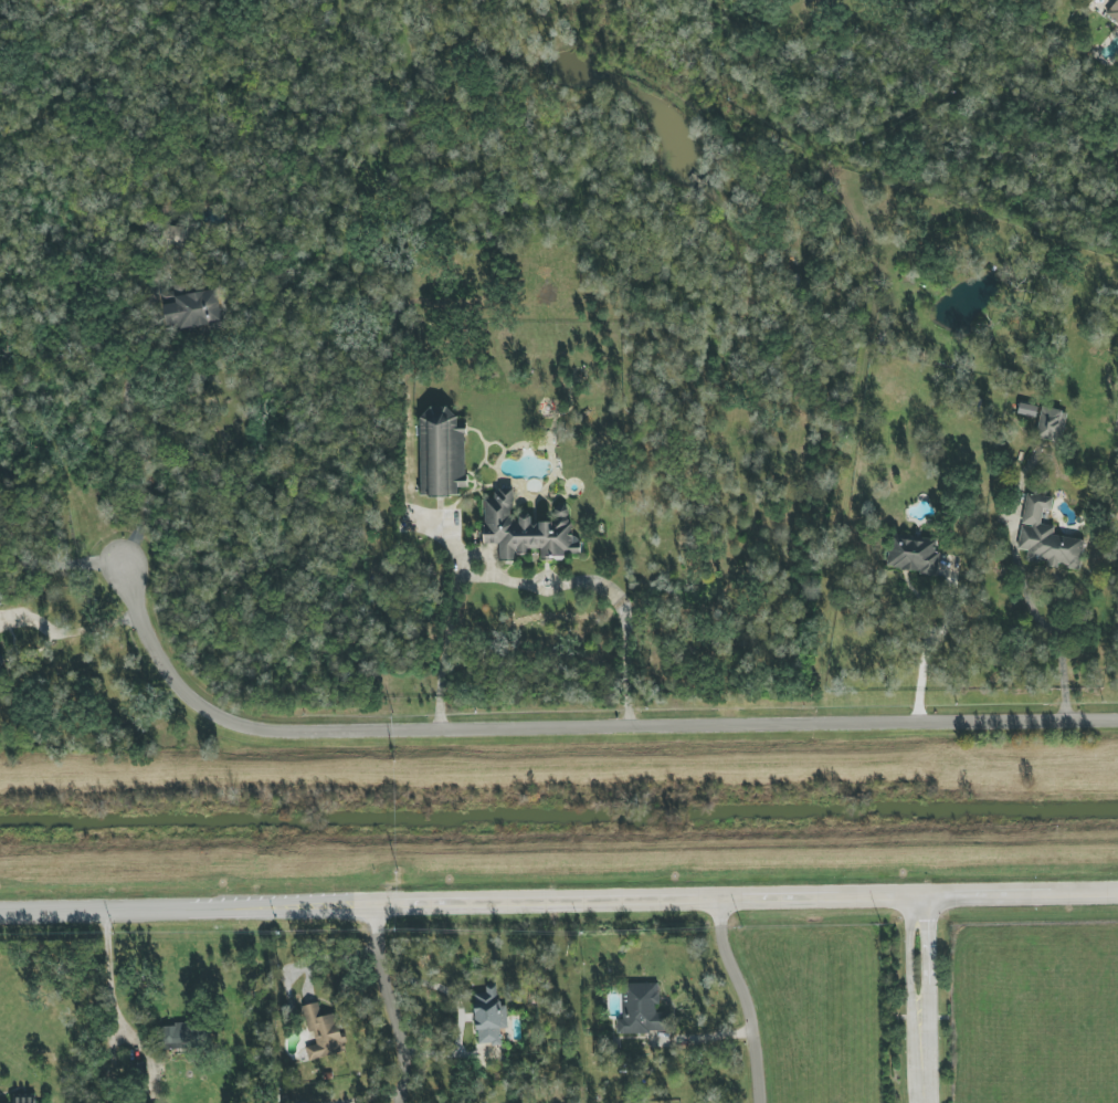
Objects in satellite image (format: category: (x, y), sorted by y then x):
building: (1115, 9)
building: (176, 237)
building: (193, 309)
building: (1027, 410)
building: (1051, 423)
road: (136, 445)
building: (444, 453)
building: (526, 529)
building: (1046, 537)
road: (14, 546)
building: (913, 555)
road: (75, 564)
road: (14, 570)
road: (529, 585)
road: (1046, 628)
road: (70, 632)
building: (0, 647)
road: (928, 649)
road: (574, 727)
road: (558, 899)
road: (740, 998)
road: (925, 998)
road: (112, 999)
road: (909, 999)
road: (387, 1002)
building: (642, 1009)
airport: (1033, 1013)
building: (489, 1017)
building: (323, 1032)
building: (167, 1038)

